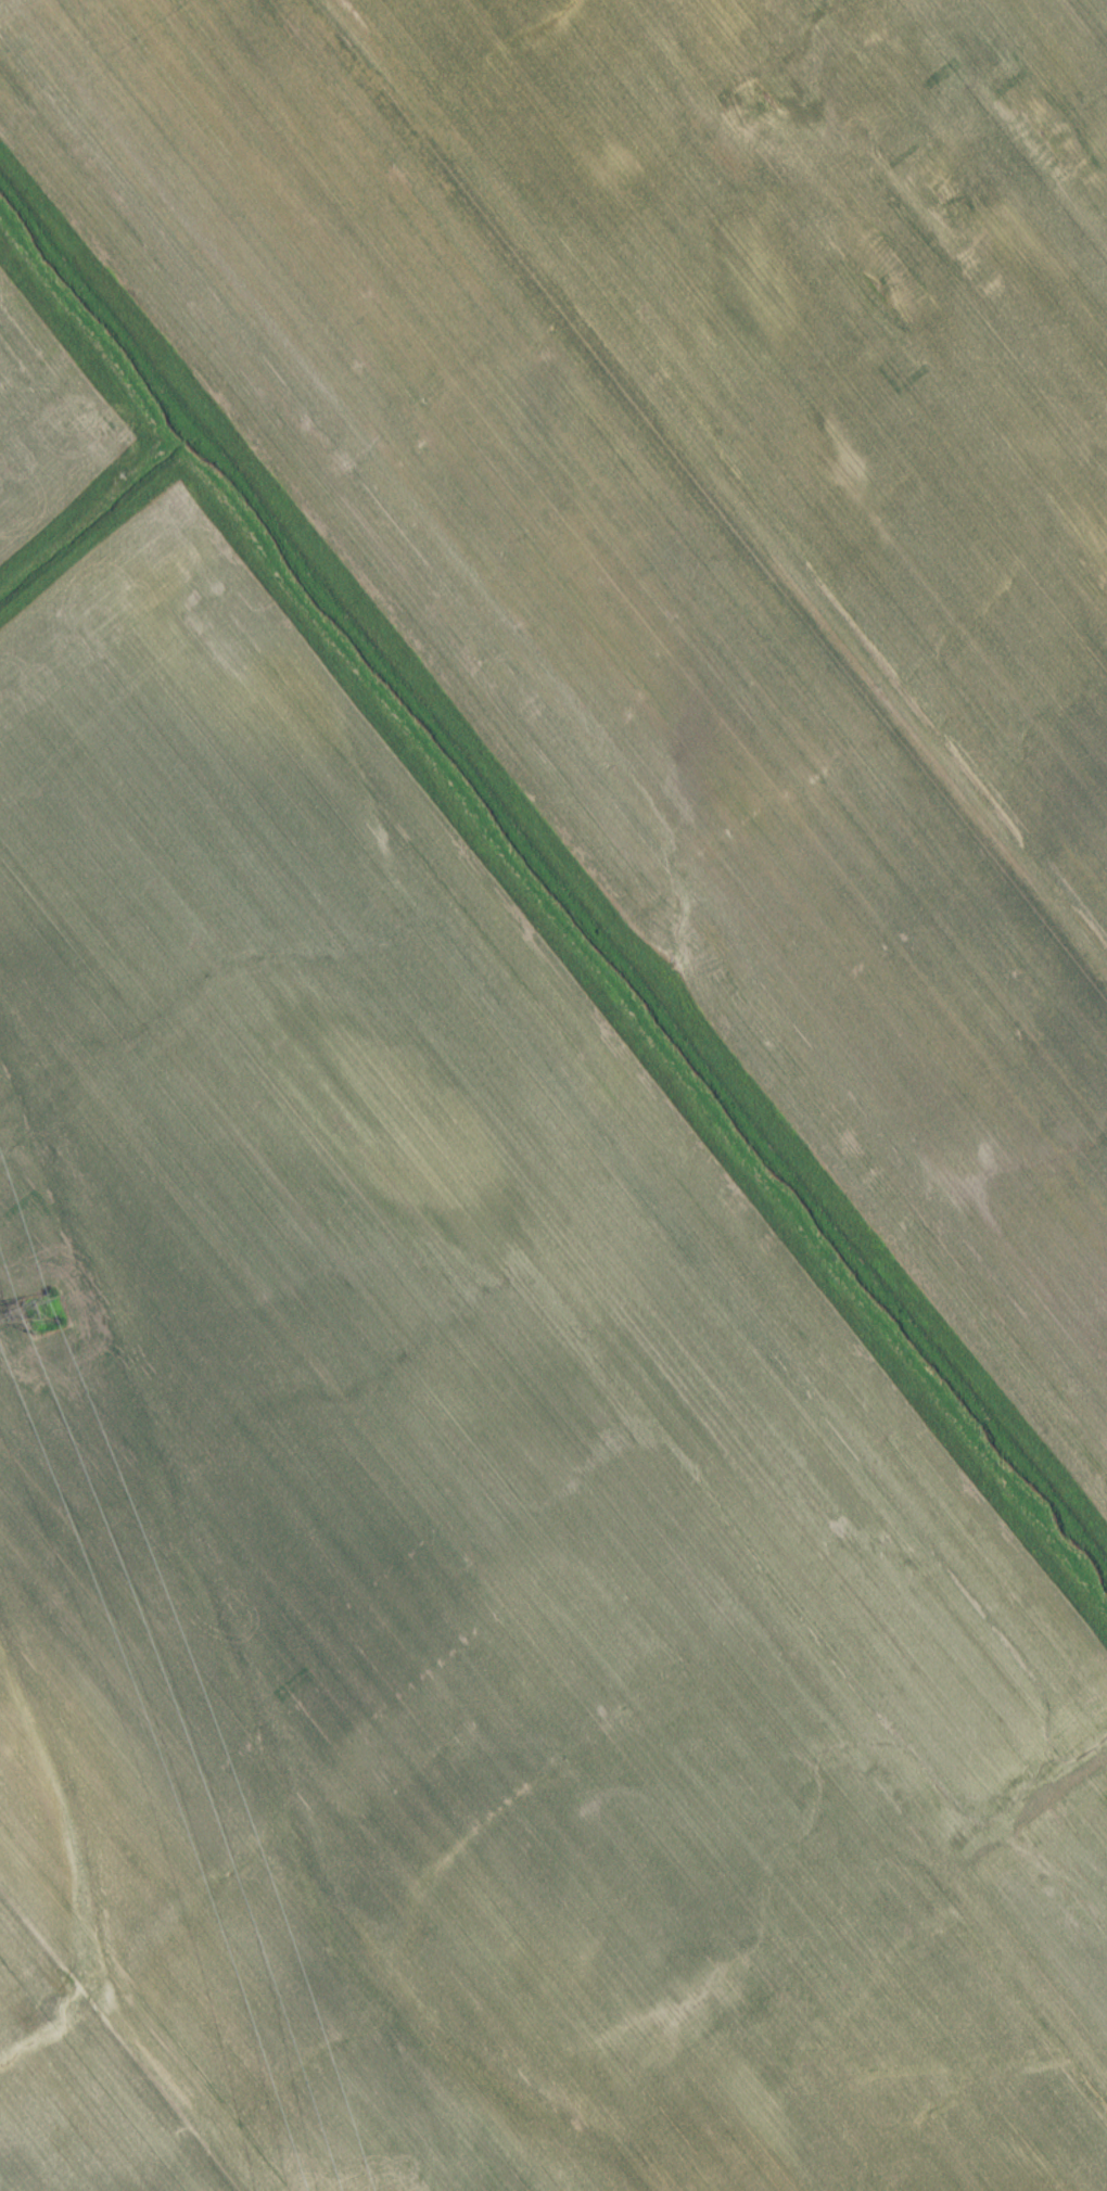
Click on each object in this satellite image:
power tower: (42, 1313)

